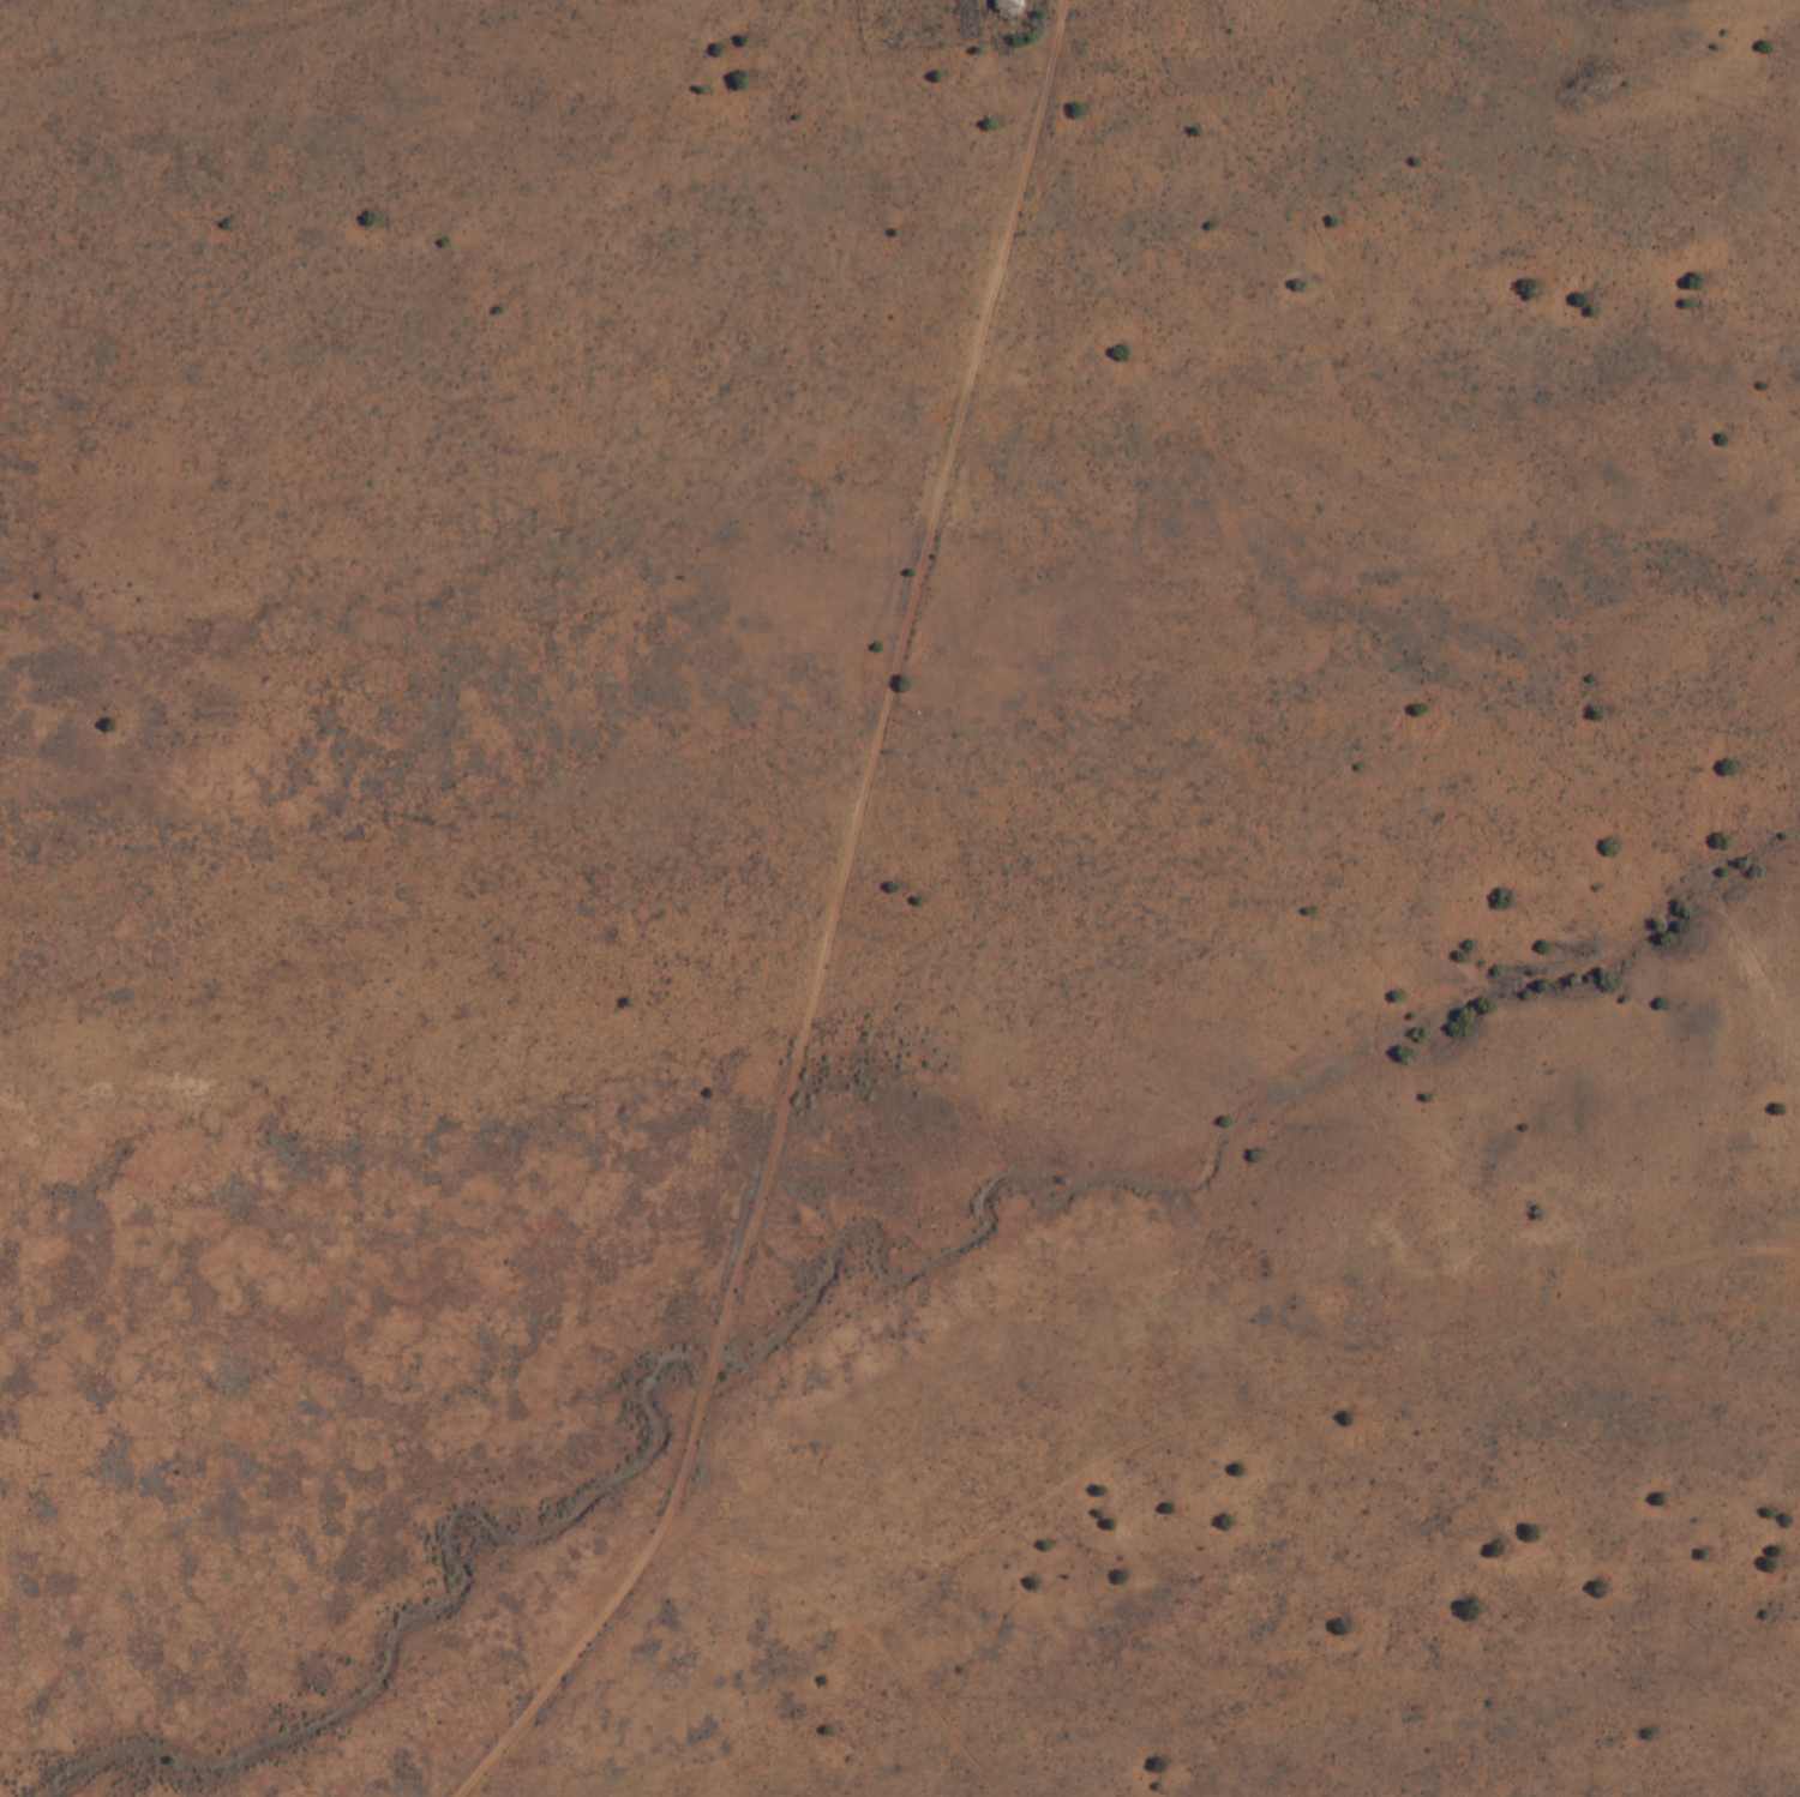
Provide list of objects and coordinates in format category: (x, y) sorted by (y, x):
building: (1015, 2)
road: (804, 58)
road: (242, 68)
road: (965, 429)
road: (1014, 1513)

